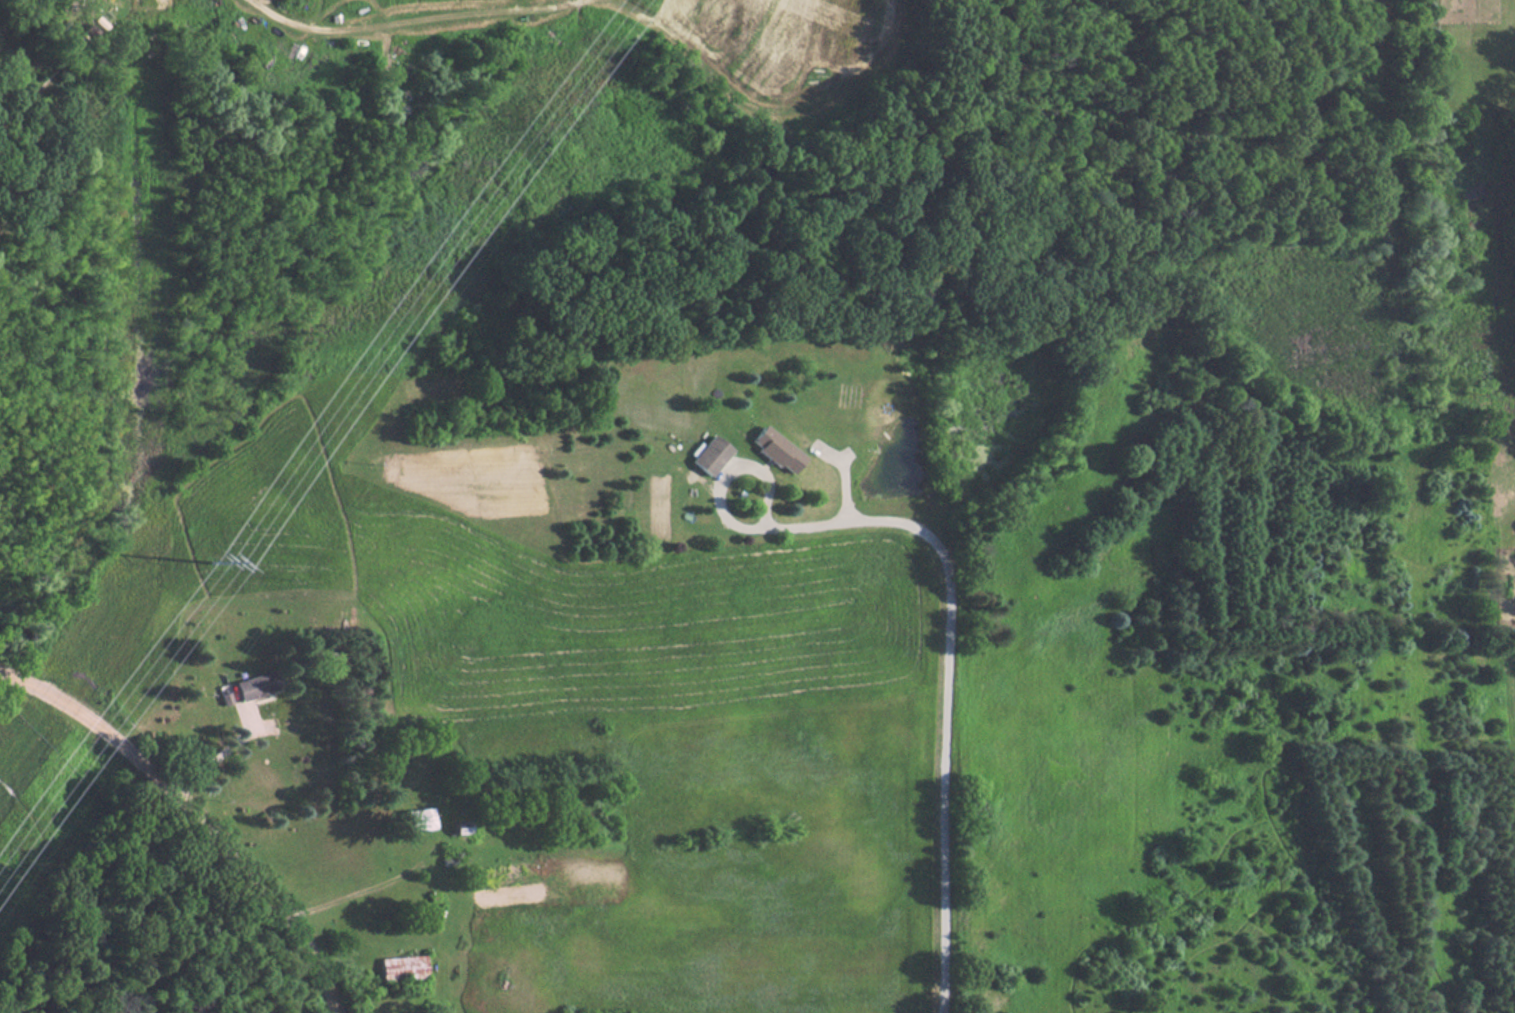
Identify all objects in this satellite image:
building: (772, 451)
building: (708, 457)
road: (724, 484)
power tower: (219, 562)
building: (255, 686)
road: (942, 693)
road: (220, 751)
road: (198, 814)
building: (416, 819)
road: (370, 889)
park: (118, 891)
road: (45, 892)
building: (401, 968)

